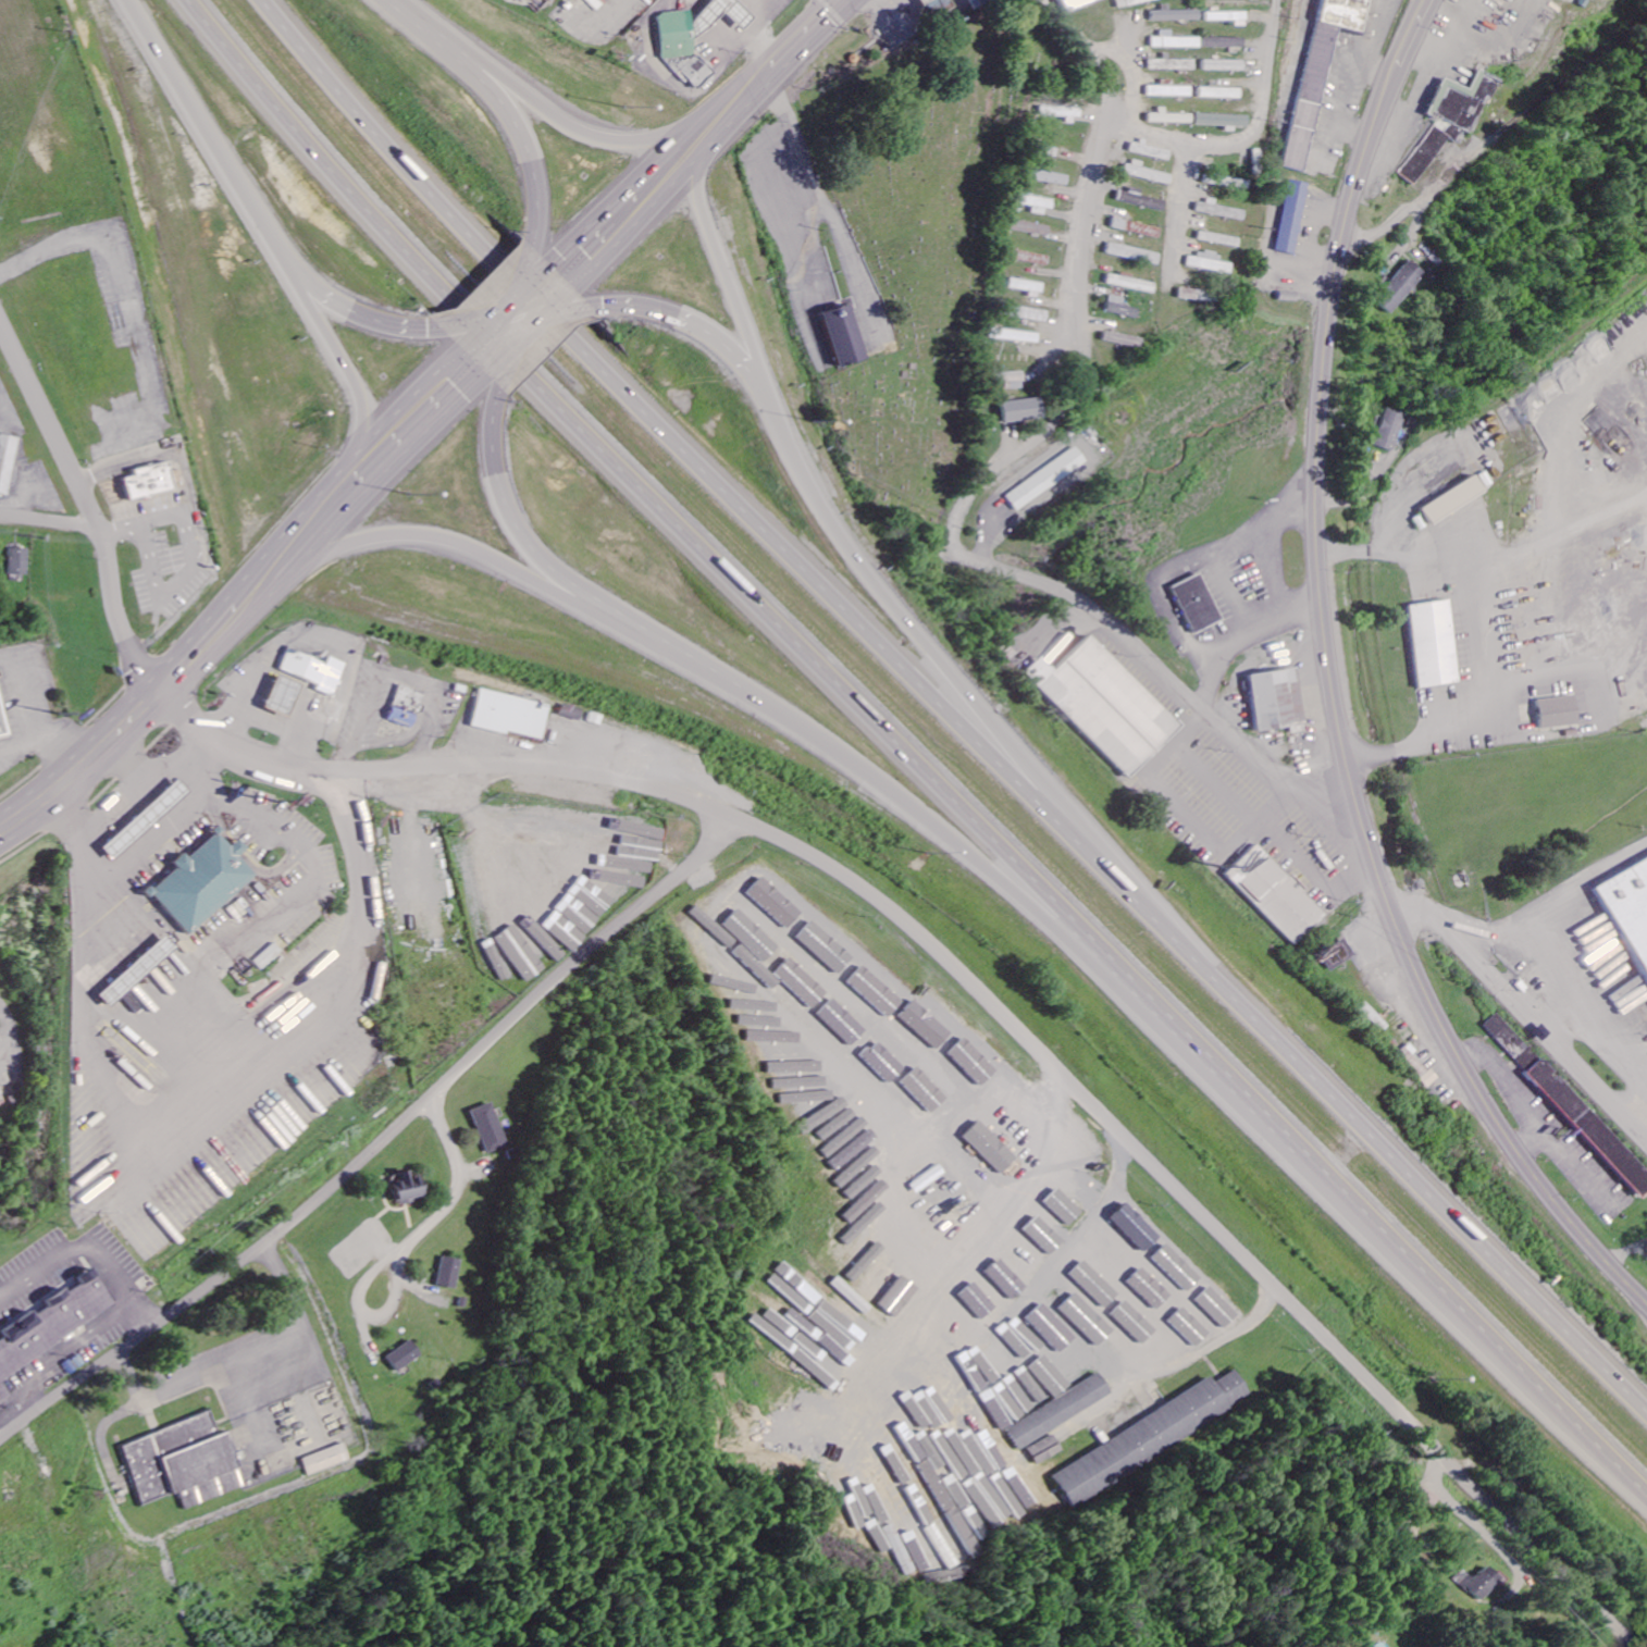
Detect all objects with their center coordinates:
building: (608, 2)
building: (978, 2)
building: (597, 3)
building: (1131, 3)
building: (1076, 4)
building: (938, 10)
building: (1173, 15)
building: (1226, 18)
gas station: (743, 21)
building: (679, 38)
building: (1174, 42)
building: (1223, 44)
building: (1173, 65)
building: (1224, 66)
building: (1322, 71)
building: (1169, 90)
building: (1221, 94)
road: (1260, 97)
road: (528, 100)
building: (1062, 113)
building: (1169, 119)
building: (1223, 121)
building: (1450, 121)
road: (512, 122)
road: (699, 137)
road: (1148, 138)
building: (1155, 153)
building: (1149, 174)
building: (1051, 177)
building: (1230, 183)
building: (1143, 201)
building: (1037, 202)
building: (1217, 211)
building: (1291, 218)
road: (1176, 220)
building: (1029, 228)
building: (1136, 228)
road: (265, 236)
building: (1217, 240)
building: (1134, 255)
building: (1031, 258)
building: (1206, 263)
road: (727, 270)
road: (520, 283)
building: (1130, 284)
building: (1029, 286)
building: (1402, 288)
road: (535, 297)
road: (347, 308)
building: (1119, 308)
road: (654, 313)
building: (1030, 314)
road: (473, 322)
road: (1082, 322)
building: (834, 333)
building: (1016, 336)
road: (491, 340)
building: (1120, 340)
road: (504, 354)
building: (1012, 380)
building: (1024, 410)
road: (50, 423)
building: (1387, 430)
building: (5, 460)
road: (362, 470)
building: (1048, 479)
building: (148, 481)
building: (1451, 499)
road: (512, 523)
building: (16, 561)
road: (110, 564)
building: (1196, 604)
road: (211, 632)
building: (1434, 644)
building: (315, 670)
road: (950, 674)
road: (1334, 684)
building: (283, 695)
building: (1275, 699)
building: (1107, 705)
road: (1196, 705)
building: (406, 706)
building: (1561, 713)
building: (511, 715)
road: (945, 715)
building: (3, 722)
road: (804, 728)
road: (913, 750)
road: (86, 761)
road: (141, 779)
building: (139, 817)
gas station: (139, 817)
building: (197, 882)
building: (1278, 895)
building: (777, 903)
building: (1629, 911)
building: (757, 941)
building: (827, 948)
building: (1339, 955)
building: (267, 956)
building: (132, 969)
building: (803, 983)
building: (742, 988)
building: (874, 989)
road: (986, 999)
road: (1526, 1008)
building: (767, 1023)
building: (922, 1023)
building: (846, 1025)
road: (5, 1033)
building: (761, 1037)
building: (1511, 1041)
building: (773, 1052)
building: (891, 1053)
building: (973, 1060)
road: (922, 1066)
building: (776, 1067)
building: (883, 1070)
building: (927, 1090)
building: (1, 1095)
building: (808, 1099)
building: (297, 1115)
building: (1590, 1125)
road: (198, 1126)
building: (490, 1128)
building: (829, 1141)
road: (381, 1142)
building: (993, 1148)
building: (409, 1189)
building: (1069, 1206)
building: (1137, 1228)
building: (1045, 1235)
building: (853, 1237)
road: (980, 1241)
road: (404, 1244)
building: (1113, 1253)
building: (865, 1263)
building: (1179, 1270)
building: (449, 1273)
building: (1013, 1276)
building: (880, 1281)
building: (1097, 1285)
building: (998, 1290)
building: (802, 1298)
building: (988, 1301)
building: (862, 1304)
building: (1217, 1308)
building: (970, 1317)
building: (1135, 1322)
building: (1190, 1327)
building: (53, 1328)
road: (1097, 1332)
building: (838, 1334)
building: (1020, 1337)
building: (1029, 1347)
building: (805, 1350)
building: (1042, 1352)
building: (405, 1357)
building: (1073, 1363)
building: (1036, 1390)
building: (1063, 1412)
building: (978, 1413)
road: (986, 1431)
building: (854, 1436)
building: (1151, 1437)
building: (330, 1460)
building: (187, 1464)
building: (878, 1466)
building: (963, 1470)
building: (1025, 1478)
building: (996, 1484)
building: (1426, 1497)
building: (957, 1498)
building: (985, 1504)
building: (938, 1570)
building: (1479, 1583)

